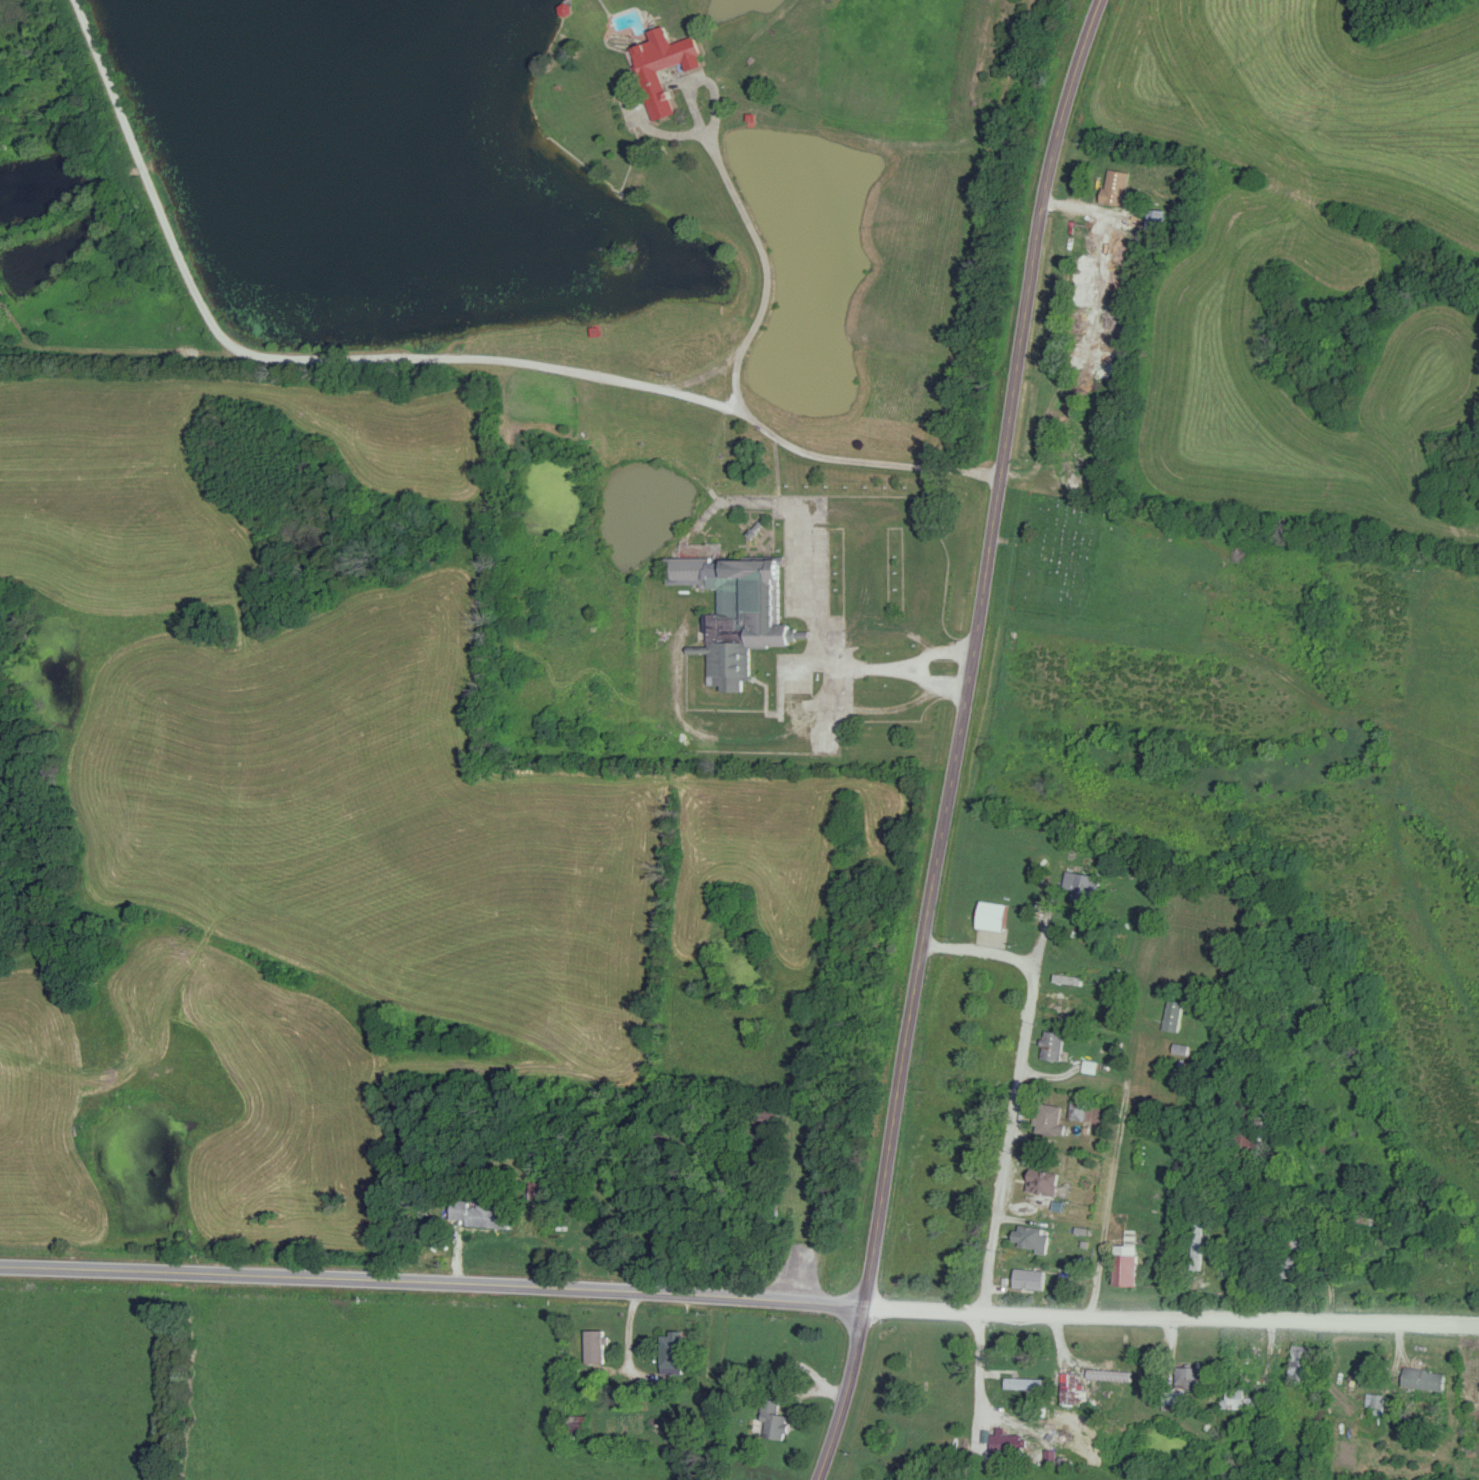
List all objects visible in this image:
building: (655, 93)
building: (1117, 187)
road: (304, 360)
road: (741, 376)
building: (1078, 442)
building: (733, 614)
road: (816, 631)
road: (917, 665)
road: (963, 739)
building: (1082, 889)
building: (993, 916)
building: (1188, 931)
road: (985, 960)
building: (1189, 965)
building: (1072, 1002)
building: (1175, 1016)
building: (1054, 1047)
building: (1087, 1113)
road: (1013, 1118)
building: (1050, 1121)
building: (1043, 1184)
road: (1115, 1208)
road: (1206, 1209)
building: (469, 1214)
building: (1030, 1238)
building: (1198, 1248)
building: (1291, 1266)
building: (1126, 1268)
building: (1029, 1280)
road: (434, 1287)
road: (1173, 1325)
building: (595, 1348)
building: (671, 1353)
building: (1233, 1358)
building: (1301, 1365)
road: (976, 1368)
building: (1473, 1375)
building: (1423, 1380)
building: (1184, 1383)
building: (1065, 1392)
building: (771, 1421)
building: (1015, 1443)

